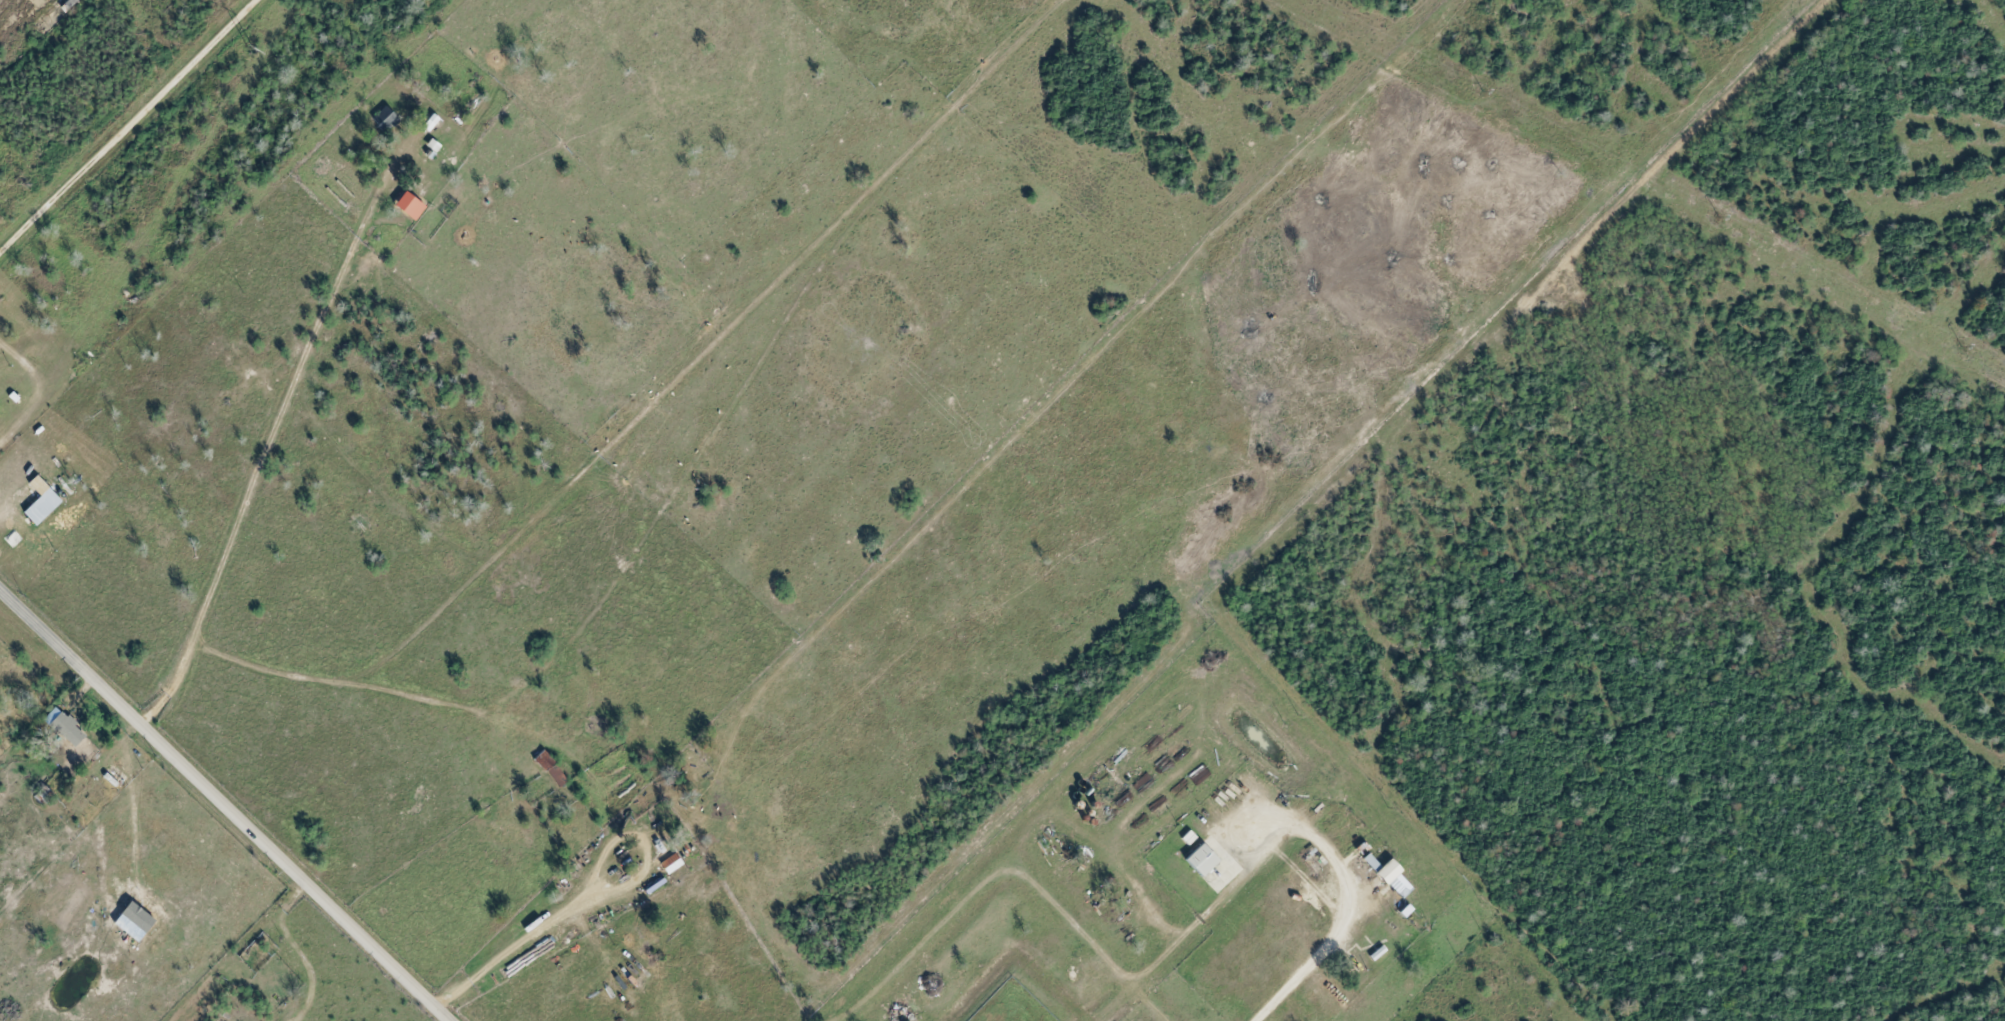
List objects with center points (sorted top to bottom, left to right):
power tower: (250, 50)
building: (384, 119)
road: (126, 123)
building: (41, 507)
building: (64, 726)
building: (543, 761)
road: (224, 802)
building: (1200, 860)
building: (1370, 862)
building: (670, 863)
building: (1386, 871)
building: (1400, 886)
building: (132, 921)

